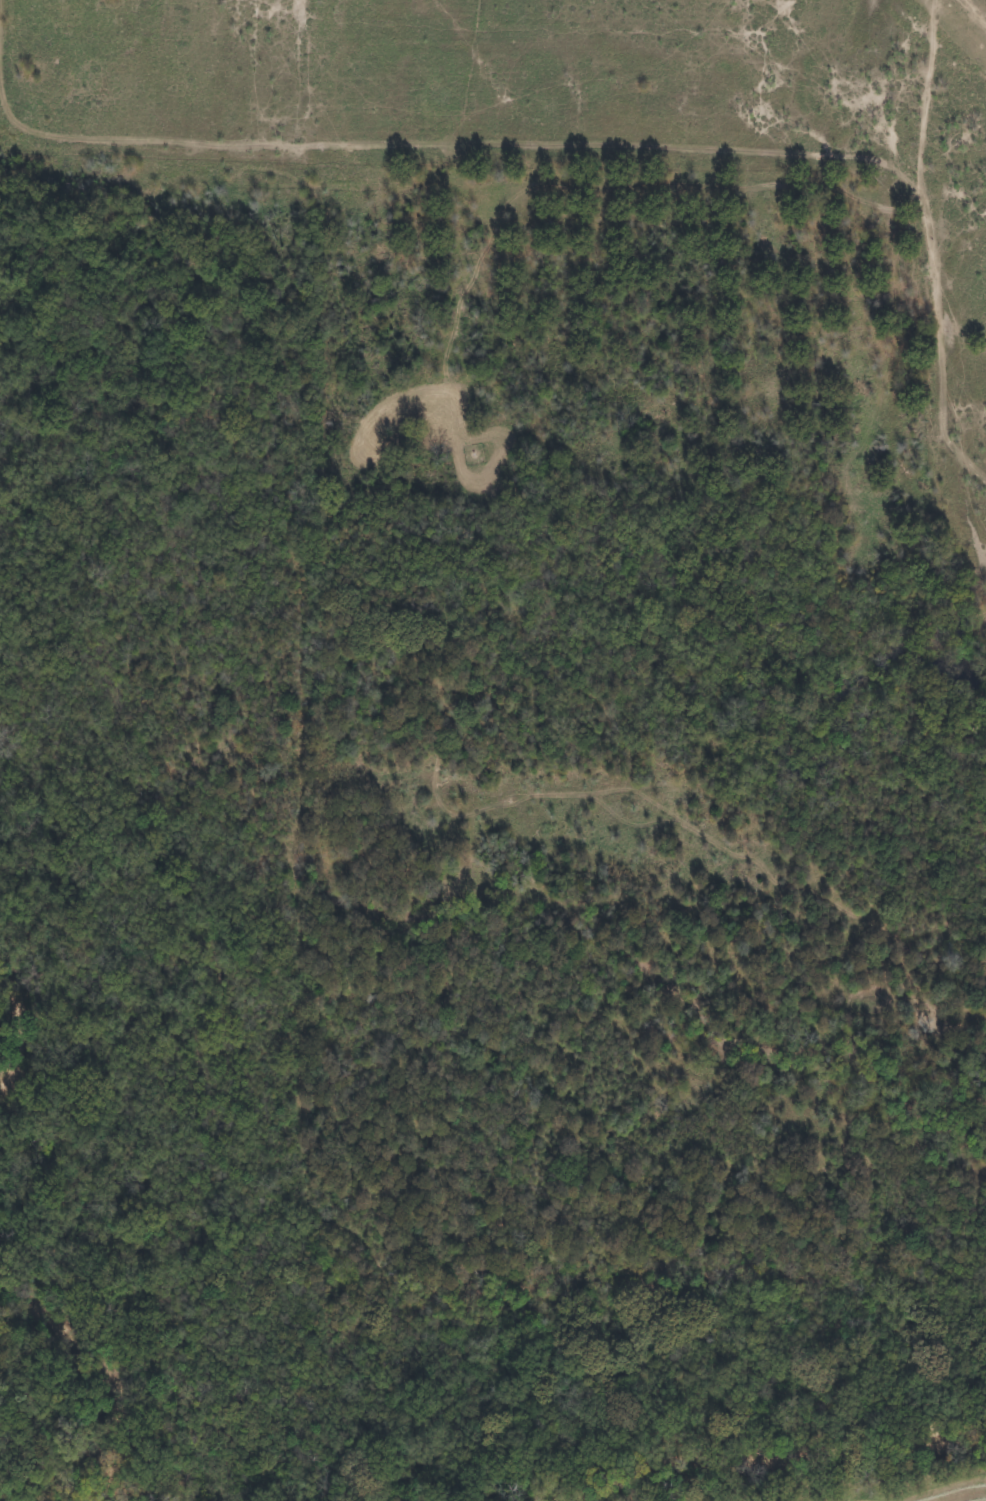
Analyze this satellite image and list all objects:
road: (126, 72)

